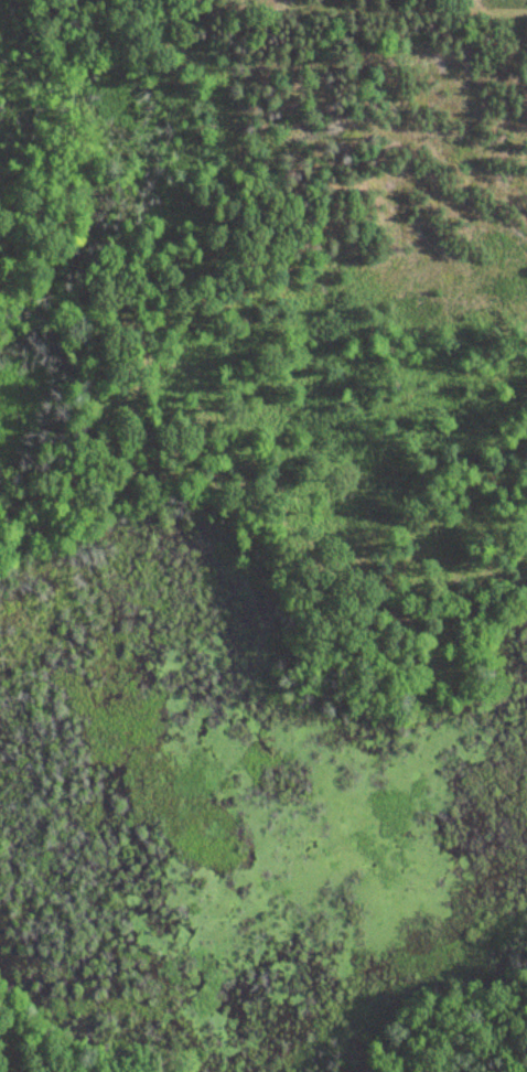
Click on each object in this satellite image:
road: (397, 18)

